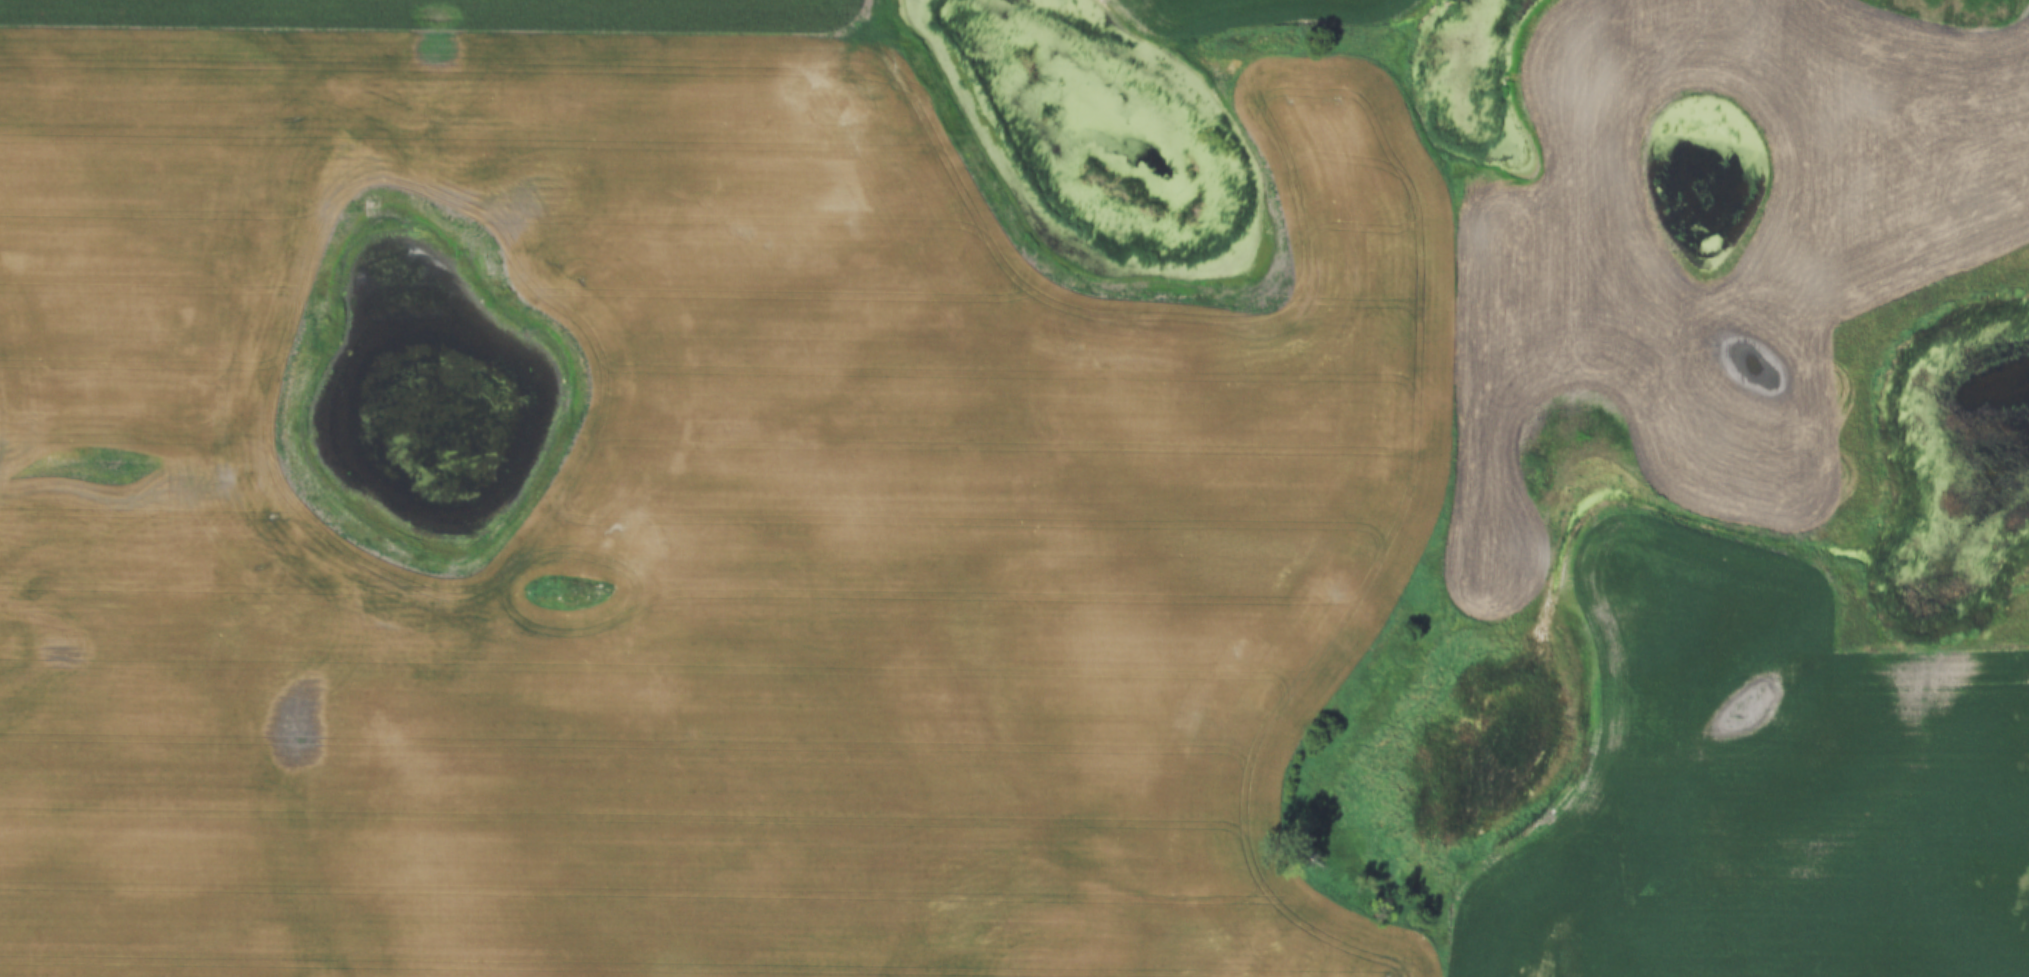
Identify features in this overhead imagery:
building: (1591, 956)

